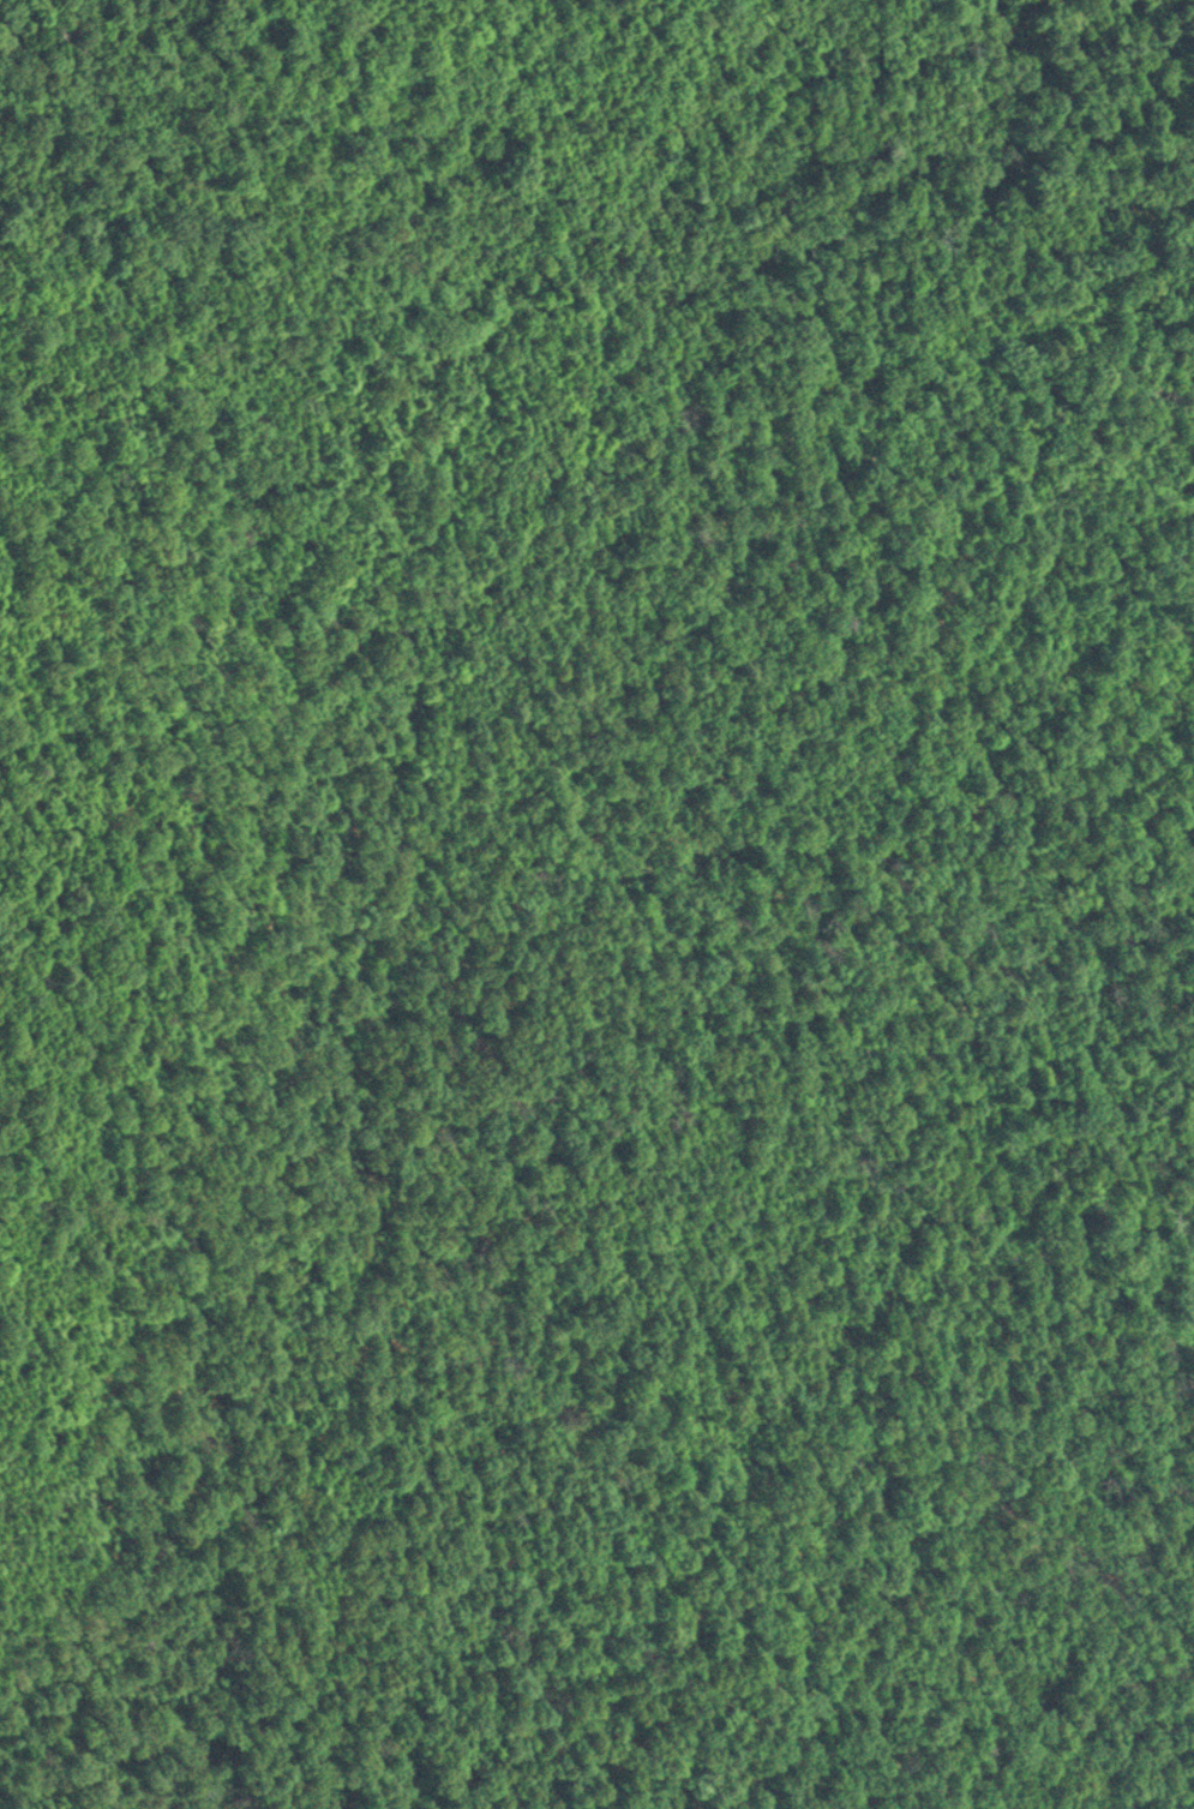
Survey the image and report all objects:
road: (482, 705)

